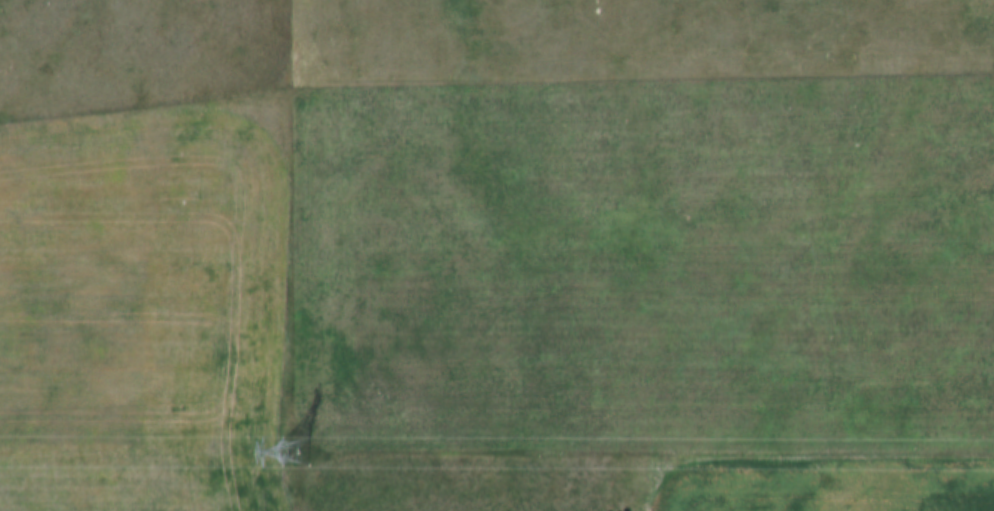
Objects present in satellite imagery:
power tower: (295, 455)

